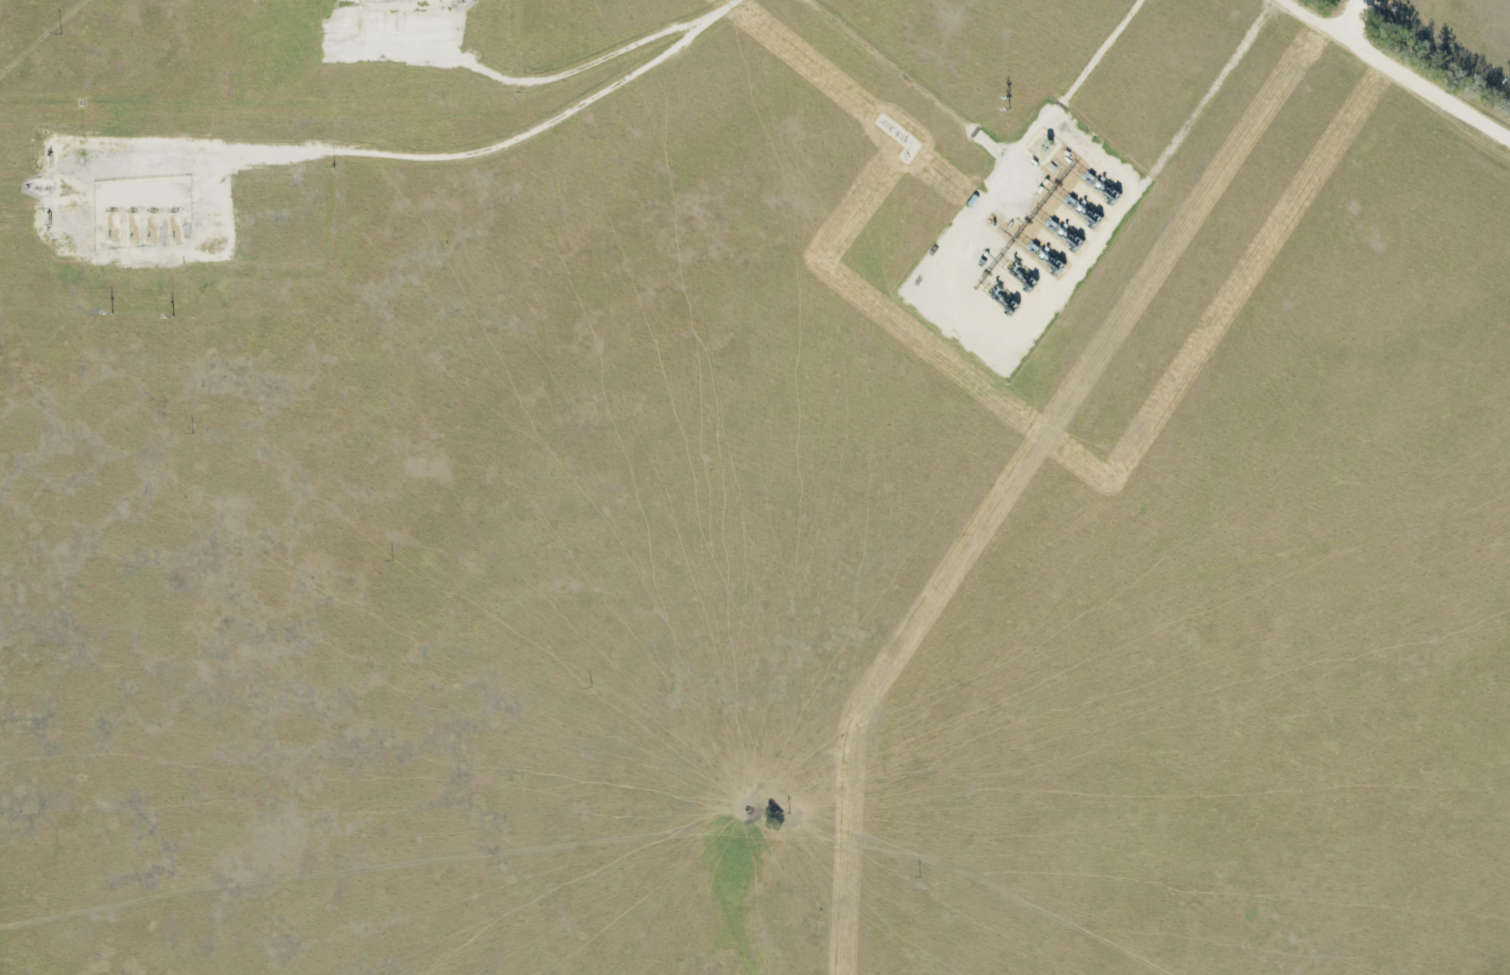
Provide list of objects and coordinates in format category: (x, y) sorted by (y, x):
road: (1346, 19)
road: (565, 72)
road: (1390, 74)
road: (903, 81)
road: (432, 157)
petroleum well: (112, 208)
road: (997, 363)

